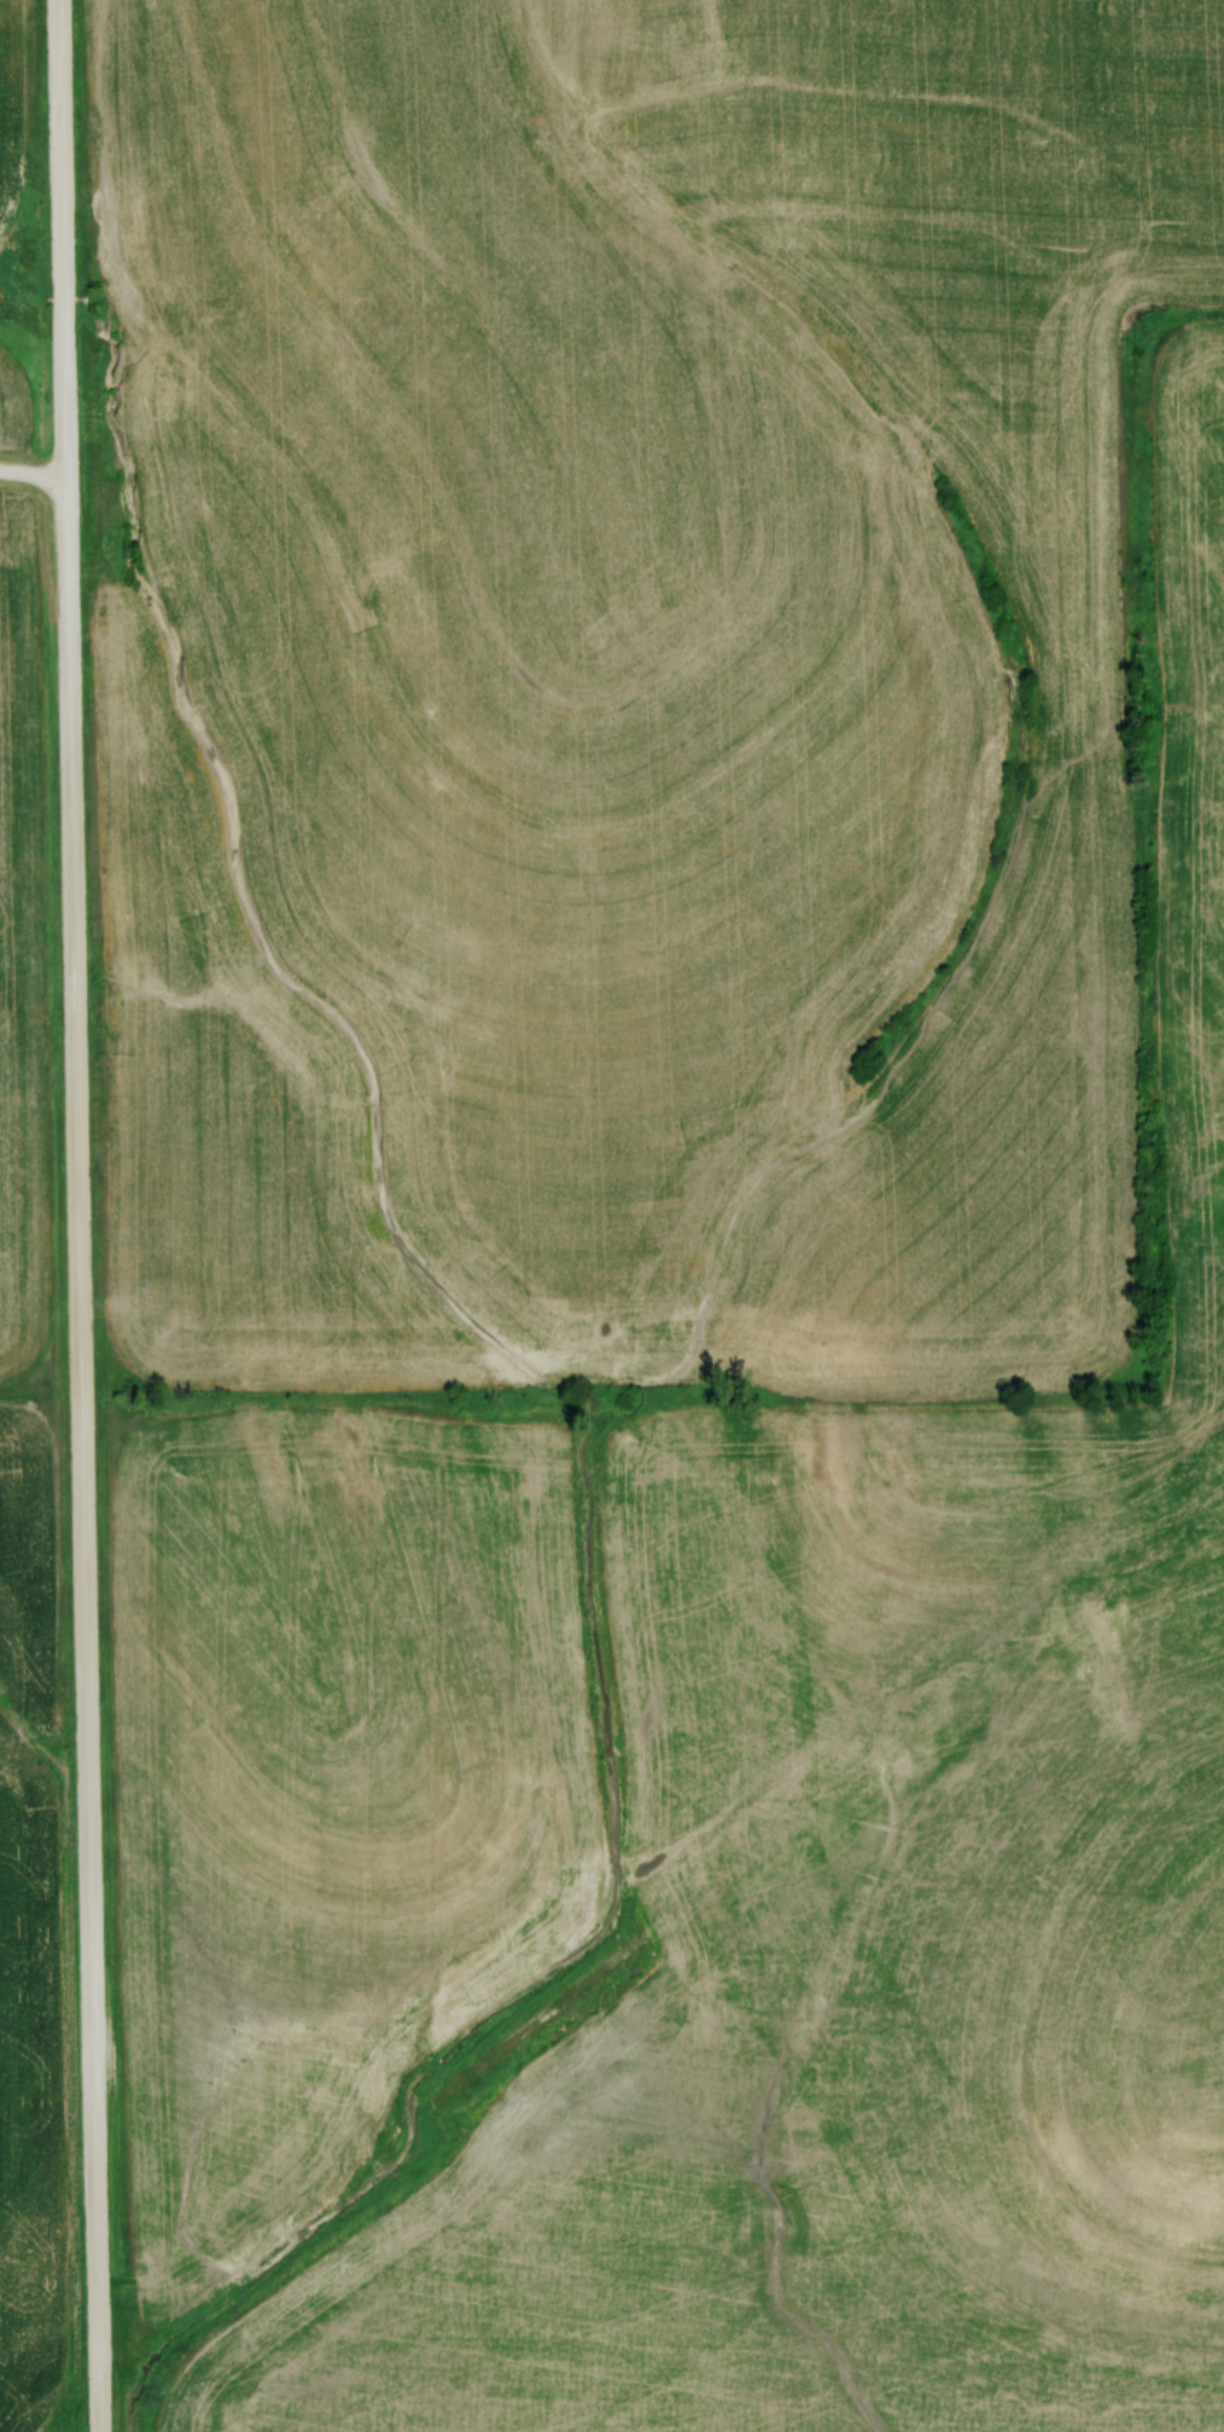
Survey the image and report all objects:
road: (34, 465)
road: (70, 1216)

